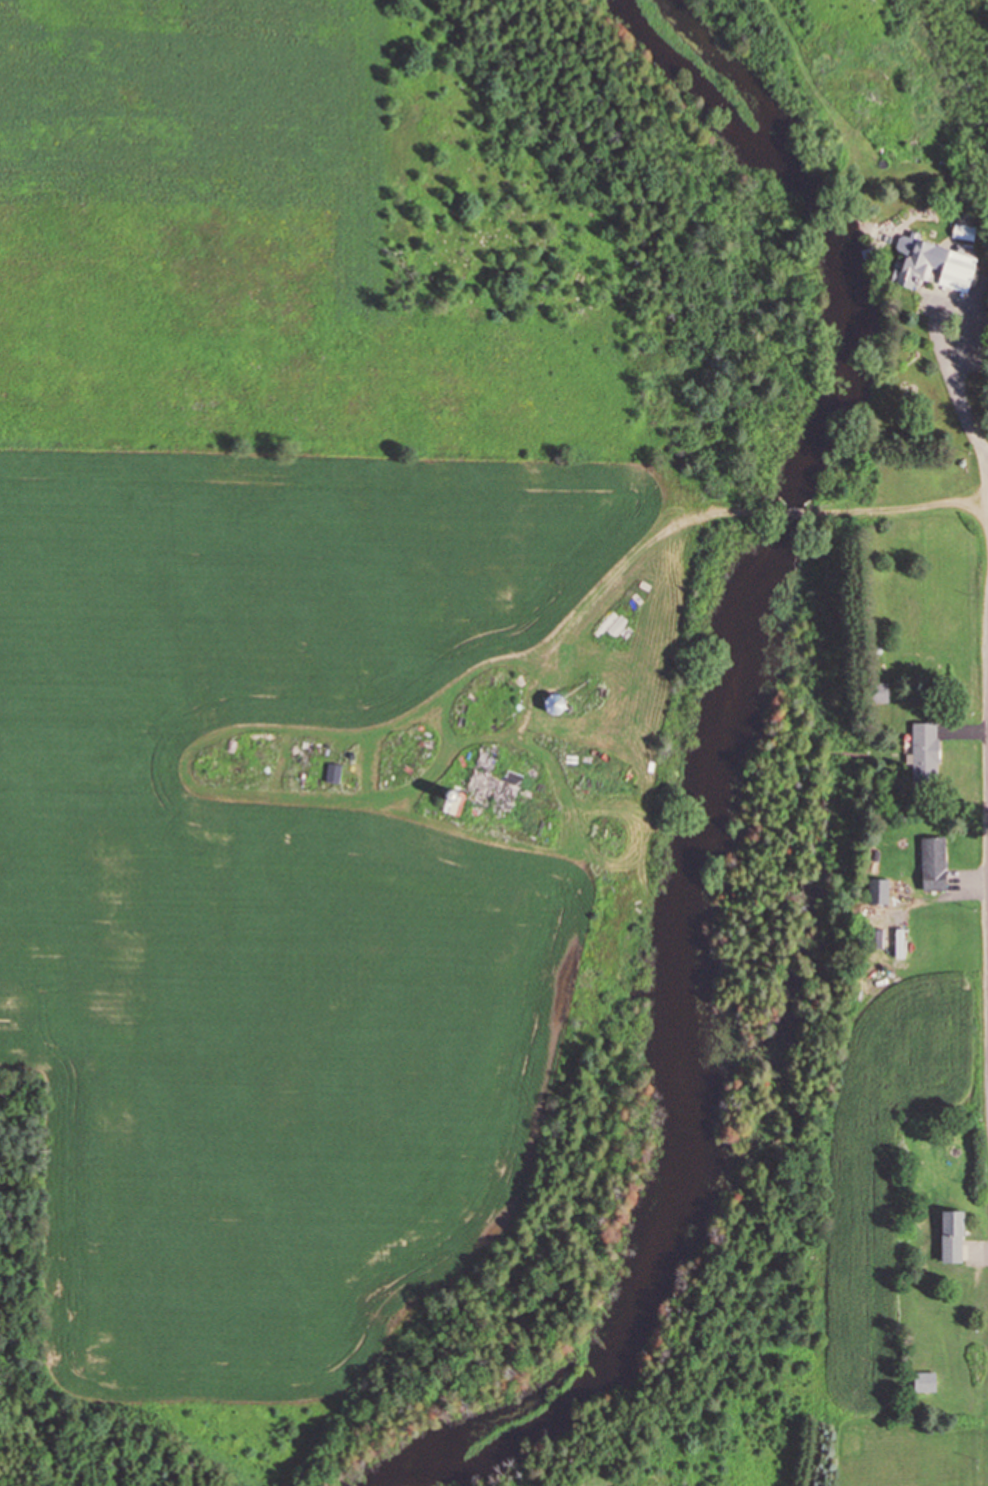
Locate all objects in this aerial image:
building: (963, 231)
building: (924, 256)
road: (906, 505)
road: (790, 510)
road: (624, 568)
building: (878, 692)
building: (924, 752)
building: (332, 772)
river: (705, 778)
building: (480, 792)
building: (932, 863)
building: (878, 891)
building: (898, 942)
building: (950, 1236)
building: (923, 1381)

